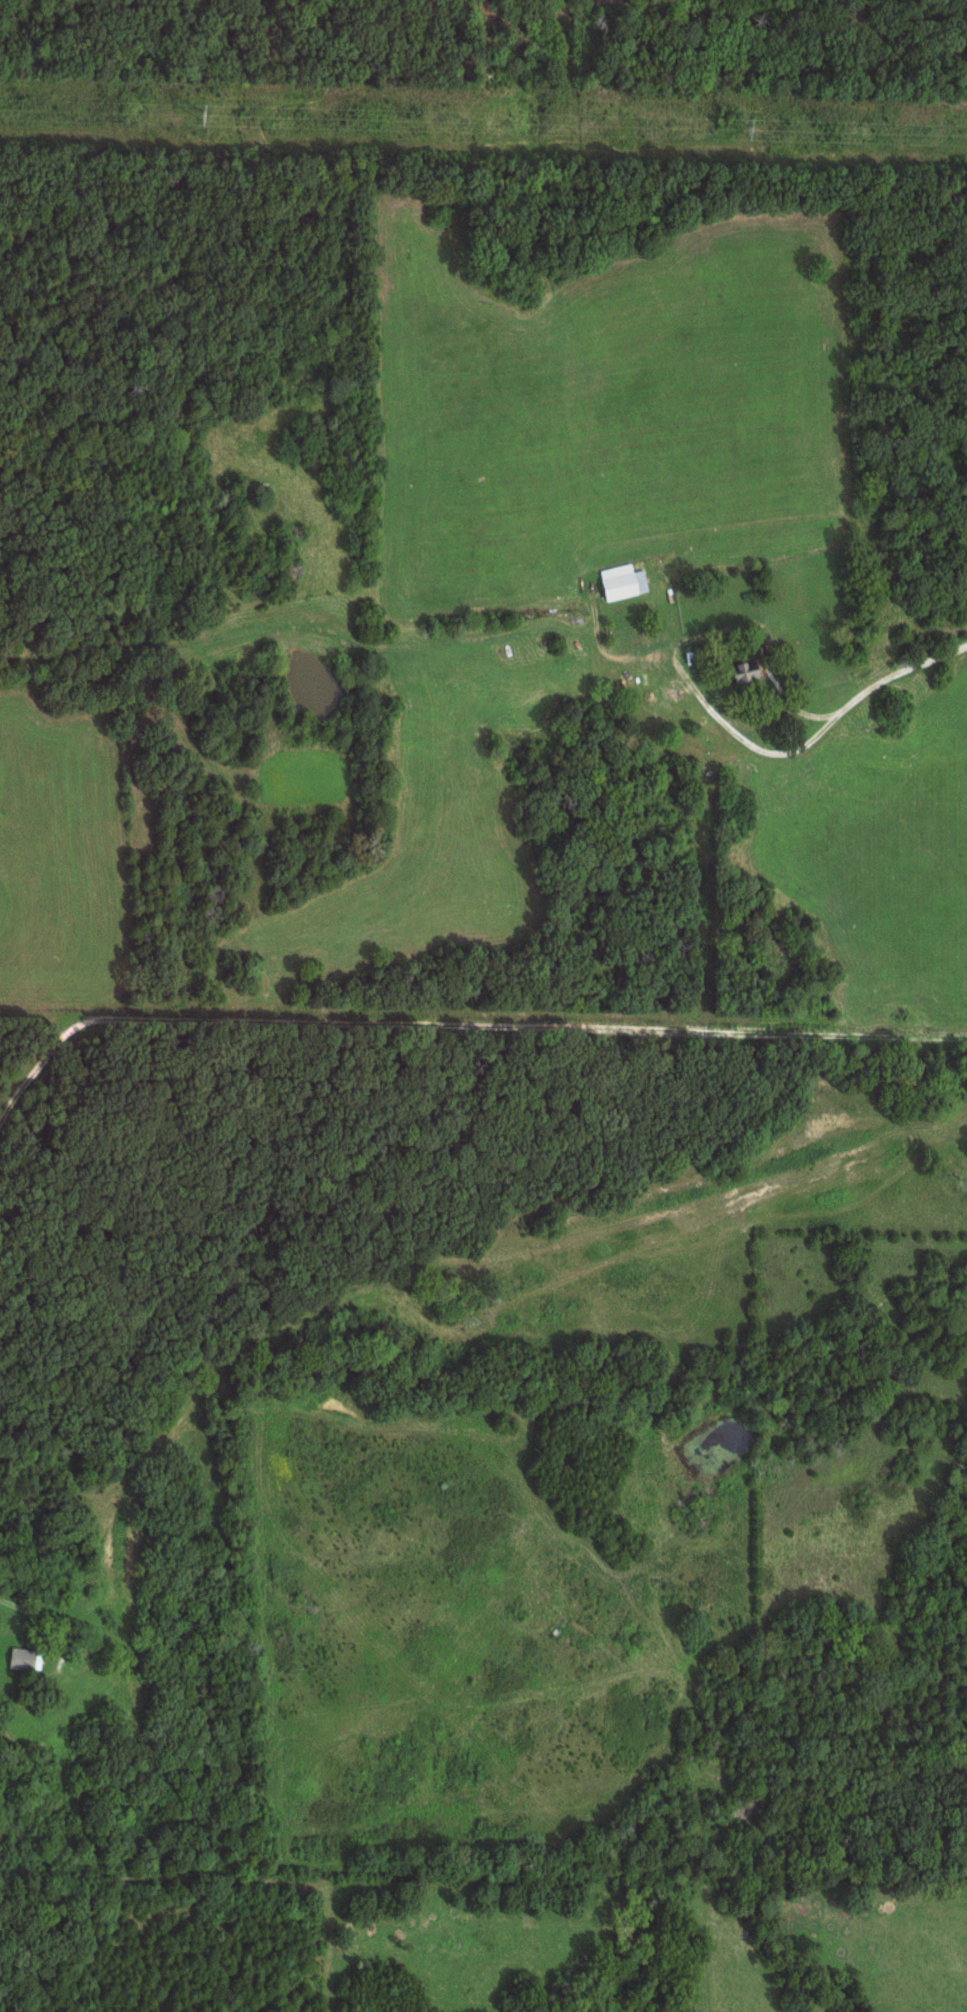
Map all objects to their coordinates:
power tower: (199, 115)
power tower: (746, 130)
building: (626, 581)
building: (752, 670)
road: (757, 712)
road: (789, 744)
road: (465, 1015)
road: (414, 1273)
road: (36, 1648)
building: (28, 1657)

